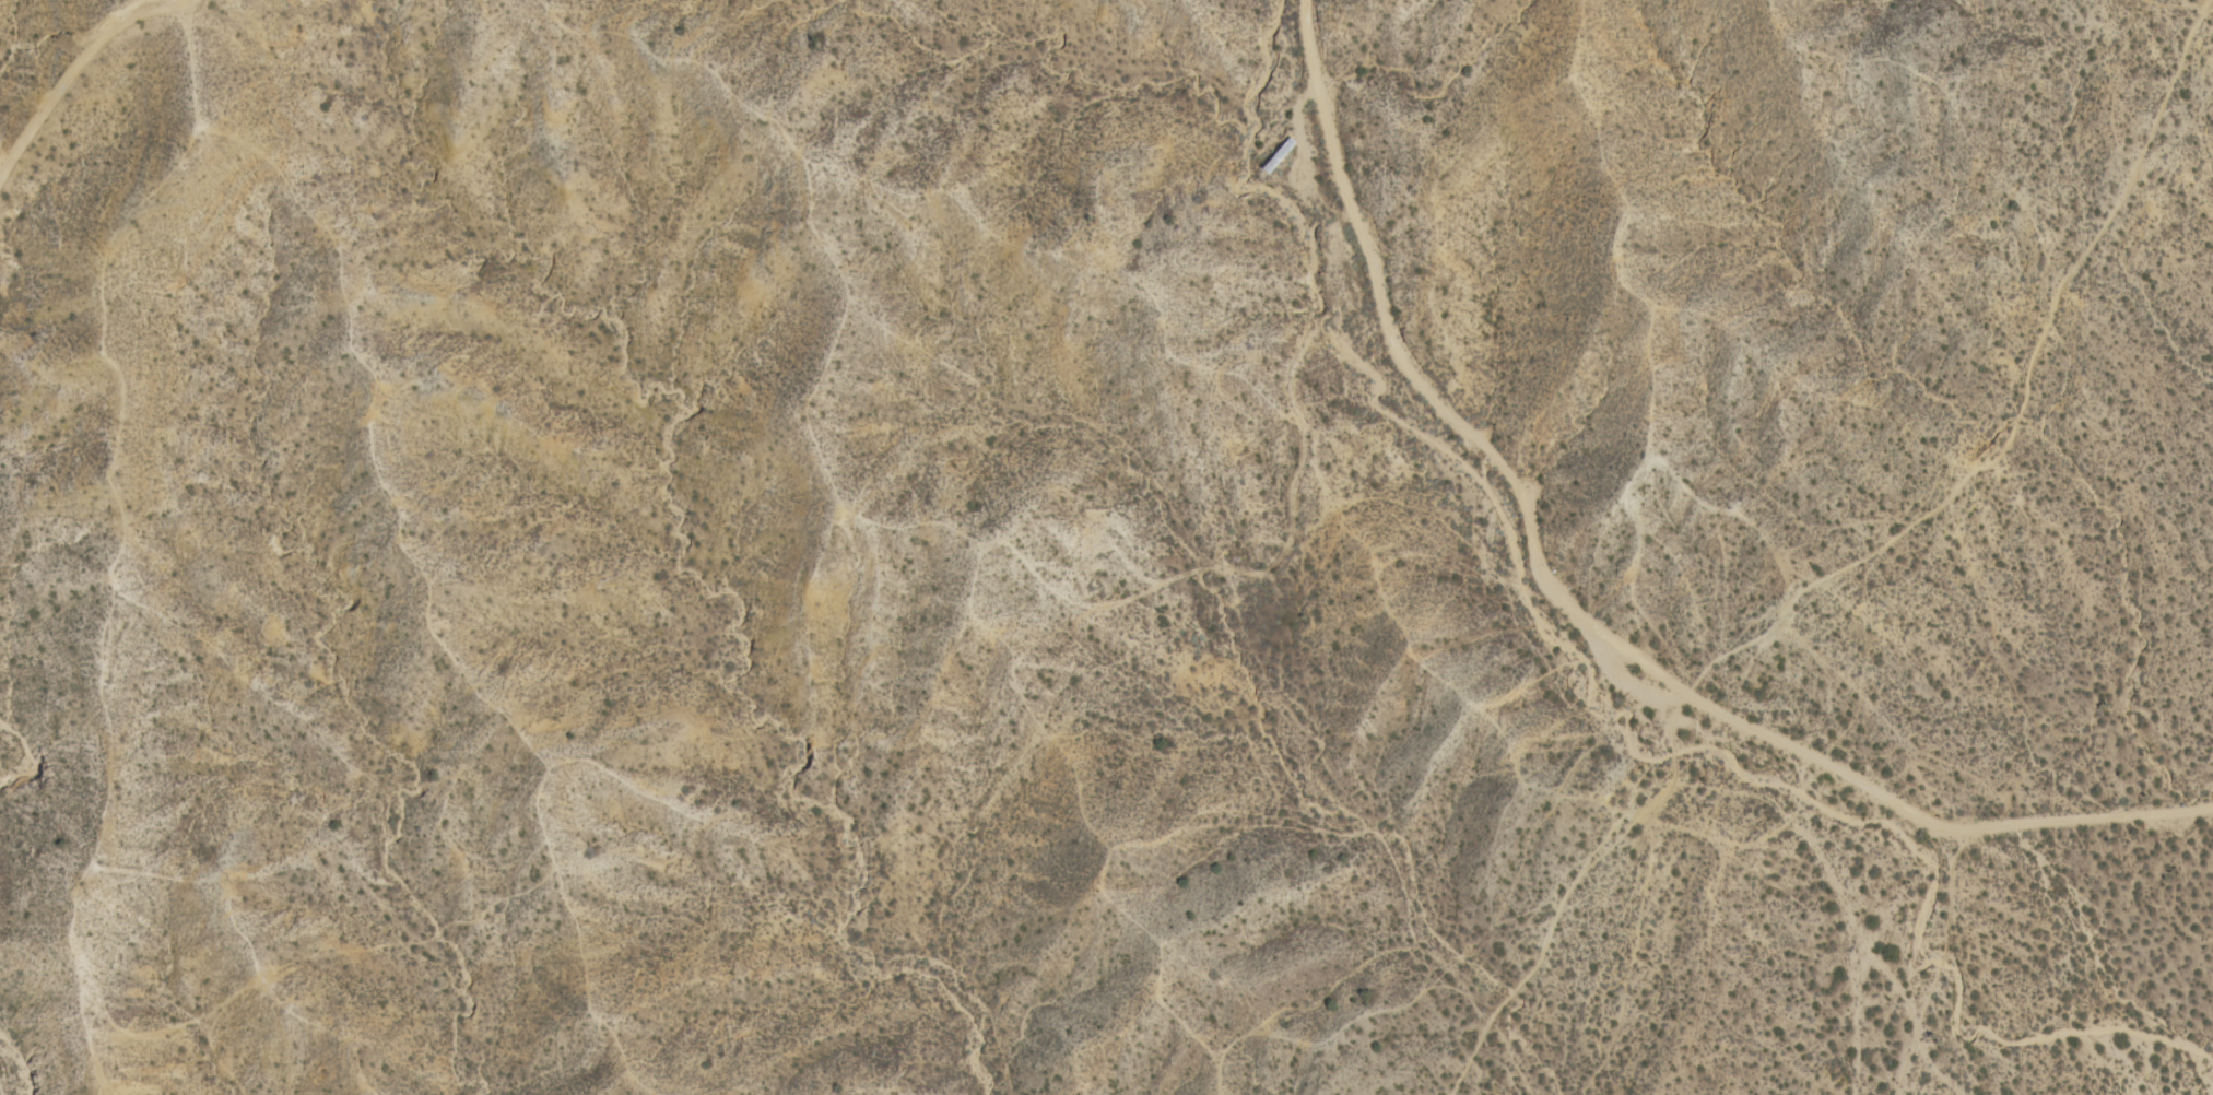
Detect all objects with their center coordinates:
road: (69, 81)
road: (1577, 622)
road: (1920, 954)

